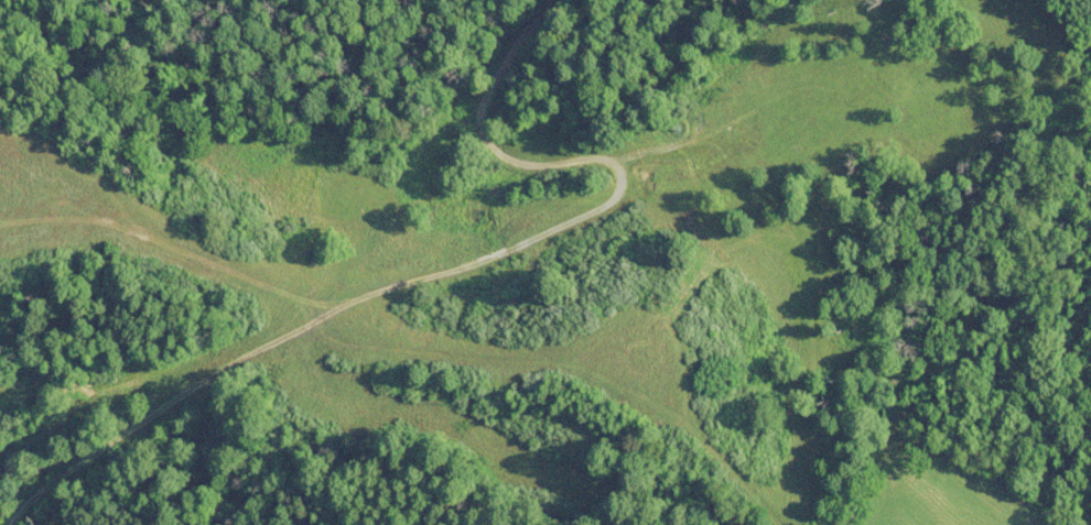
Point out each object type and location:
road: (482, 122)
road: (642, 146)
road: (597, 204)

